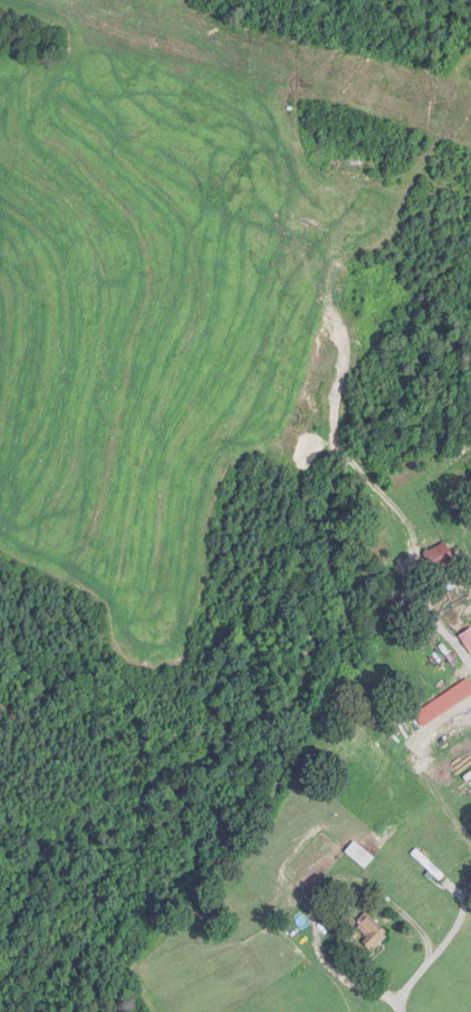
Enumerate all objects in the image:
building: (440, 557)
road: (433, 615)
building: (467, 640)
building: (457, 695)
building: (360, 855)
road: (318, 895)
building: (372, 932)
road: (436, 953)

